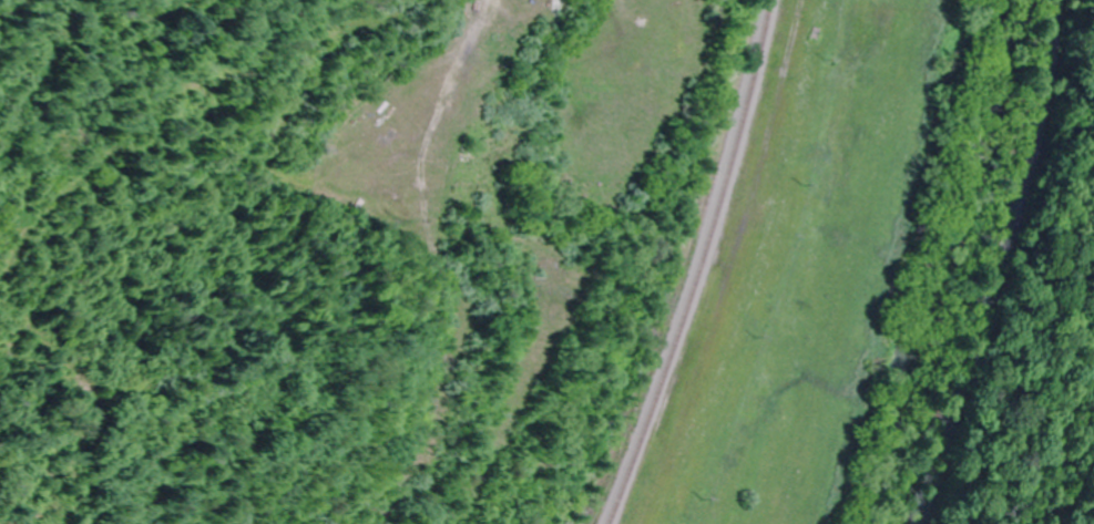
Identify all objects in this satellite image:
road: (1001, 265)
railway: (701, 266)
river: (948, 266)

